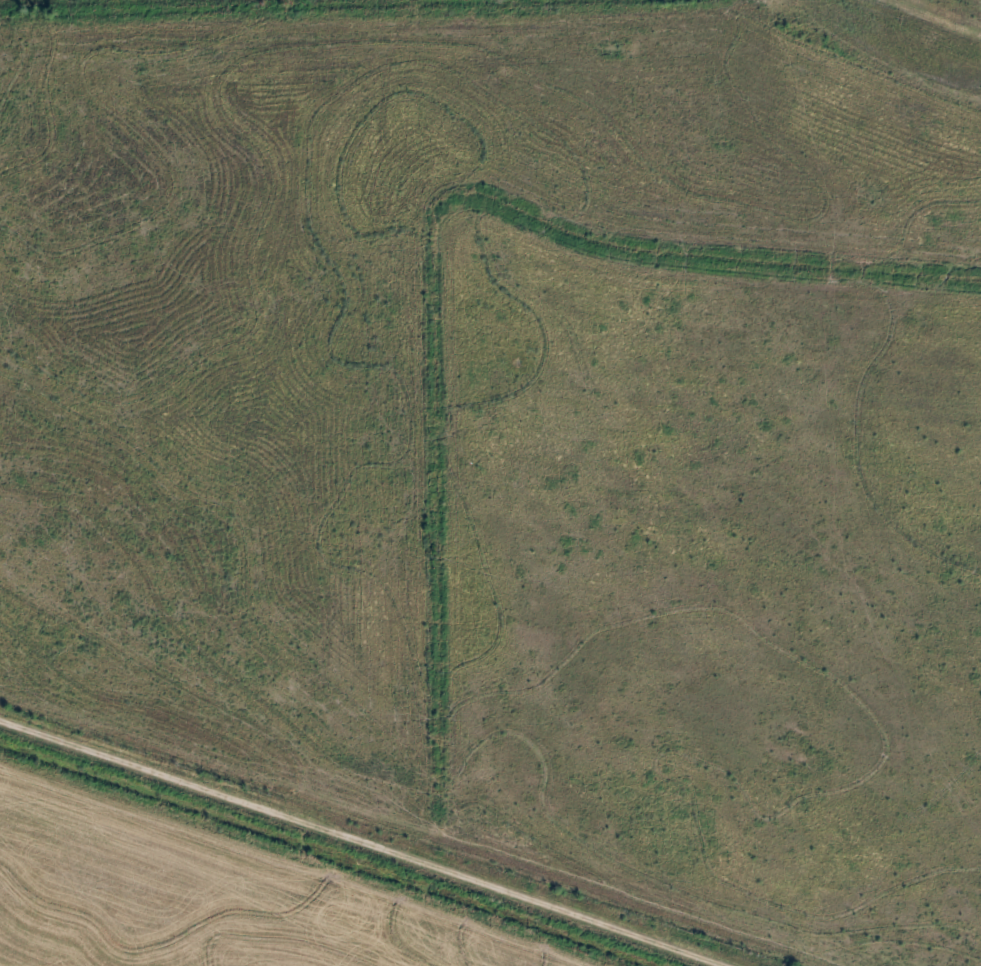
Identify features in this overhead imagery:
road: (182, 5)

